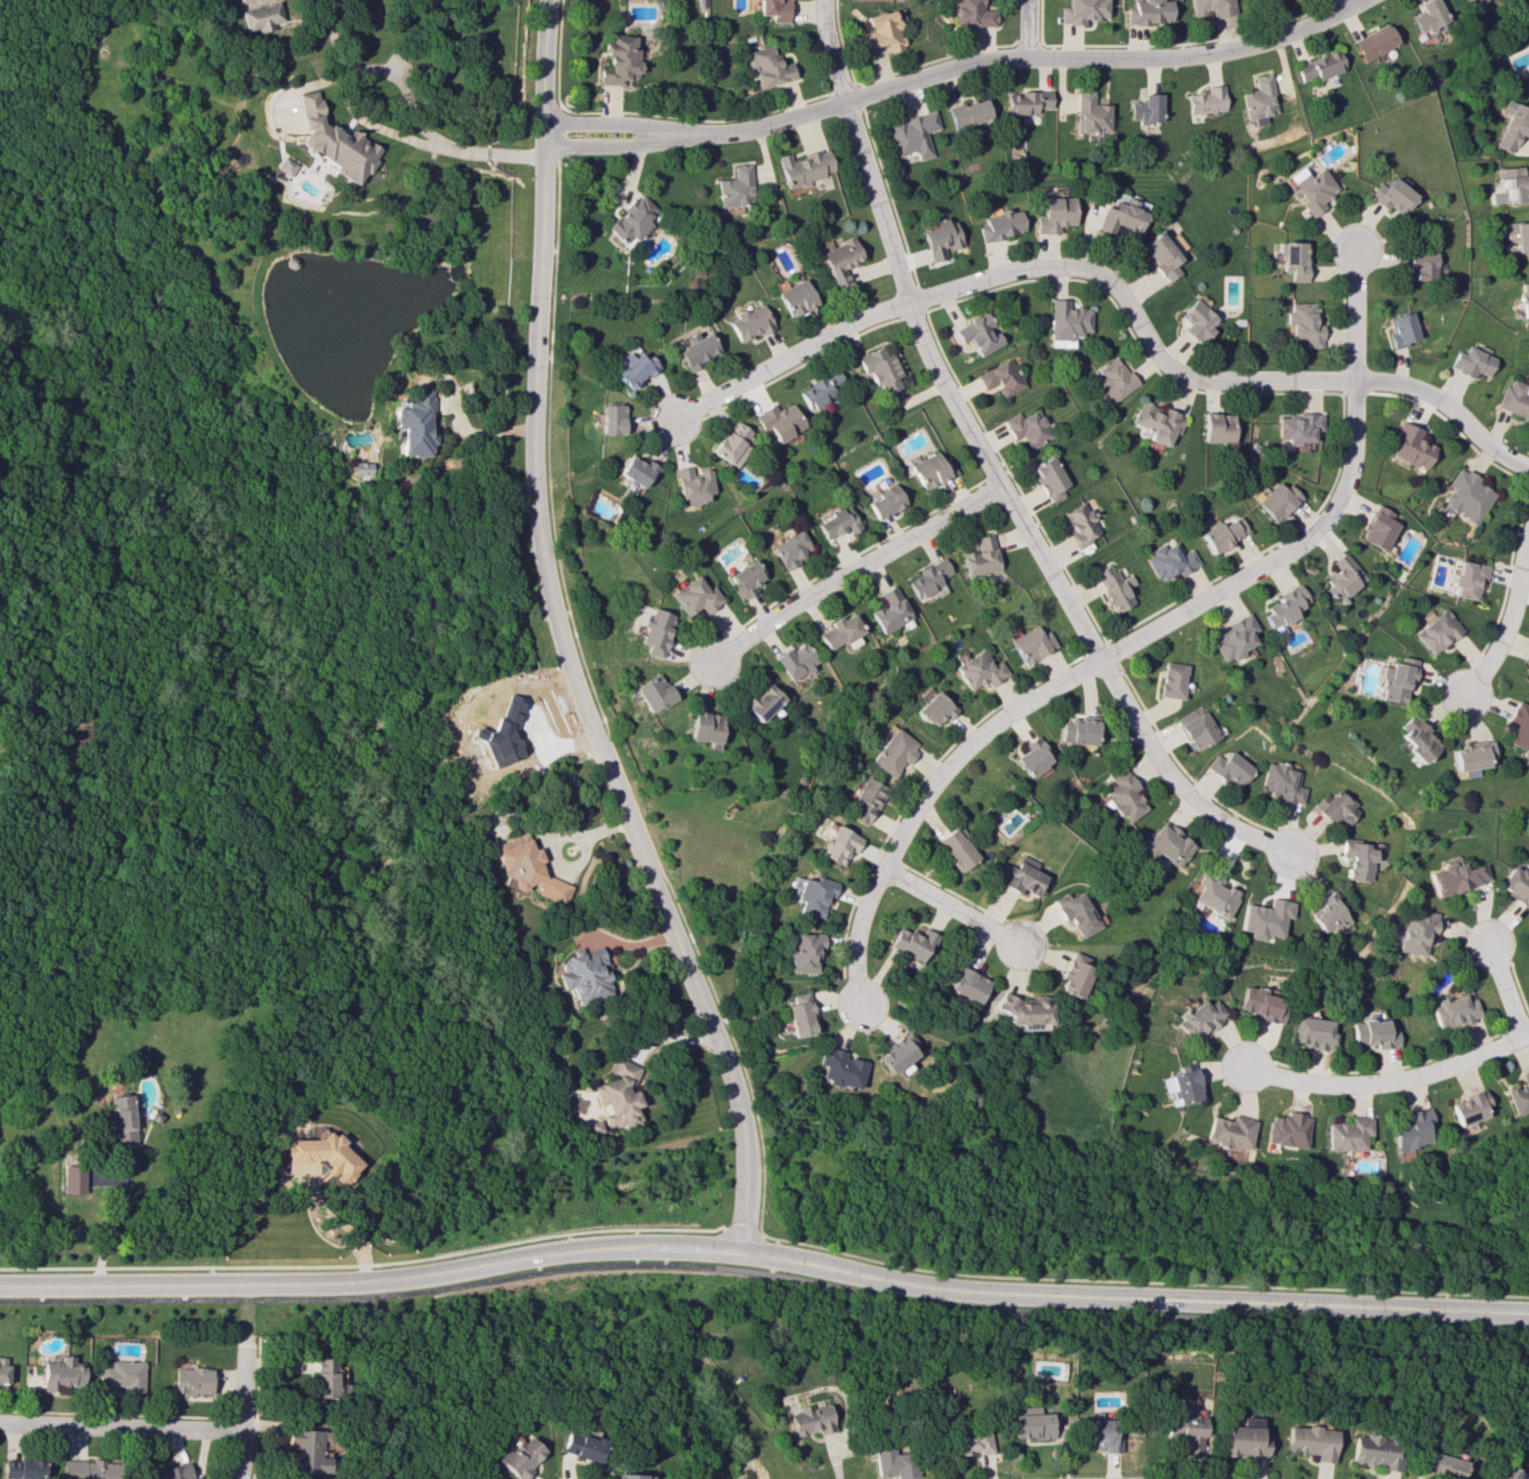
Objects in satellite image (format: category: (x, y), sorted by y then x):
road: (1348, 2)
building: (1473, 2)
building: (1209, 7)
building: (775, 9)
building: (1080, 11)
building: (1146, 12)
building: (972, 13)
building: (262, 16)
building: (1428, 16)
road: (1025, 28)
building: (882, 31)
building: (1375, 42)
road: (1036, 57)
building: (621, 60)
building: (769, 66)
building: (1320, 66)
road: (558, 74)
building: (1205, 100)
building: (1259, 100)
building: (1026, 102)
building: (1144, 108)
building: (968, 113)
building: (1089, 114)
road: (362, 117)
road: (628, 124)
building: (1511, 125)
building: (913, 134)
building: (332, 143)
road: (628, 147)
building: (284, 166)
building: (804, 167)
building: (1509, 186)
building: (736, 187)
building: (1311, 188)
building: (1391, 195)
building: (1054, 214)
building: (1125, 216)
building: (631, 219)
building: (1000, 225)
building: (1519, 235)
building: (939, 238)
building: (1160, 254)
building: (839, 260)
building: (1292, 260)
building: (1420, 264)
road: (1115, 288)
building: (795, 297)
building: (1524, 299)
building: (1198, 319)
building: (1067, 321)
building: (749, 322)
building: (1304, 323)
building: (1399, 329)
building: (978, 334)
building: (694, 349)
building: (1470, 362)
building: (634, 367)
building: (880, 370)
building: (1001, 377)
building: (1114, 379)
building: (819, 389)
building: (1515, 399)
building: (612, 418)
building: (779, 421)
building: (1156, 422)
building: (413, 424)
road: (456, 426)
building: (1028, 427)
building: (1217, 427)
building: (1298, 427)
building: (734, 443)
building: (1411, 446)
building: (359, 468)
road: (992, 468)
building: (638, 470)
building: (932, 470)
building: (1050, 478)
building: (694, 484)
building: (1466, 495)
building: (1276, 500)
building: (886, 502)
building: (839, 522)
building: (1081, 524)
building: (1378, 528)
building: (1224, 533)
building: (792, 548)
building: (981, 557)
building: (1170, 560)
road: (854, 571)
building: (1342, 577)
building: (748, 578)
building: (928, 579)
building: (1465, 579)
road: (548, 583)
building: (1114, 587)
building: (697, 596)
building: (1285, 606)
building: (890, 610)
road: (1508, 620)
building: (1435, 631)
building: (657, 632)
building: (841, 632)
building: (1235, 637)
road: (1138, 638)
building: (1032, 644)
building: (795, 660)
building: (980, 670)
building: (1527, 672)
building: (1395, 679)
building: (1172, 680)
building: (654, 692)
building: (762, 701)
building: (936, 709)
building: (1518, 726)
building: (705, 727)
building: (1198, 730)
building: (1077, 732)
building: (1416, 739)
building: (894, 752)
building: (1469, 756)
building: (1033, 757)
building: (1230, 768)
building: (1283, 782)
building: (1124, 795)
building: (866, 800)
building: (1335, 807)
building: (839, 844)
building: (1164, 845)
building: (956, 849)
building: (1357, 860)
building: (526, 868)
building: (1021, 876)
building: (1454, 878)
building: (1514, 886)
building: (813, 895)
road: (952, 906)
building: (1076, 912)
building: (1326, 913)
building: (1263, 919)
building: (1413, 931)
building: (911, 944)
building: (803, 951)
building: (1073, 975)
building: (585, 976)
building: (966, 984)
road: (1504, 989)
building: (1262, 1004)
building: (1452, 1011)
building: (1025, 1012)
building: (798, 1015)
building: (1200, 1018)
building: (1312, 1032)
building: (1373, 1033)
building: (896, 1052)
building: (838, 1068)
building: (1182, 1084)
road: (1389, 1084)
building: (1520, 1094)
building: (618, 1095)
building: (1468, 1108)
building: (122, 1119)
building: (1411, 1129)
building: (1287, 1130)
building: (1229, 1132)
building: (1347, 1134)
building: (324, 1154)
building: (74, 1178)
road: (743, 1194)
road: (113, 1221)
road: (344, 1230)
road: (765, 1236)
road: (764, 1258)
road: (764, 1274)
building: (4, 1370)
building: (62, 1374)
building: (122, 1376)
building: (193, 1380)
road: (240, 1417)
building: (811, 1418)
building: (1248, 1421)
building: (1031, 1425)
road: (120, 1427)
building: (1184, 1431)
building: (1097, 1433)
building: (971, 1441)
building: (1243, 1441)
building: (1309, 1442)
building: (580, 1446)
building: (304, 1451)
building: (1374, 1451)
building: (519, 1456)
building: (893, 1464)
building: (1436, 1466)
building: (23, 1469)
building: (89, 1469)
building: (176, 1471)
building: (1501, 1473)
building: (157, 1475)
building: (628, 1476)

